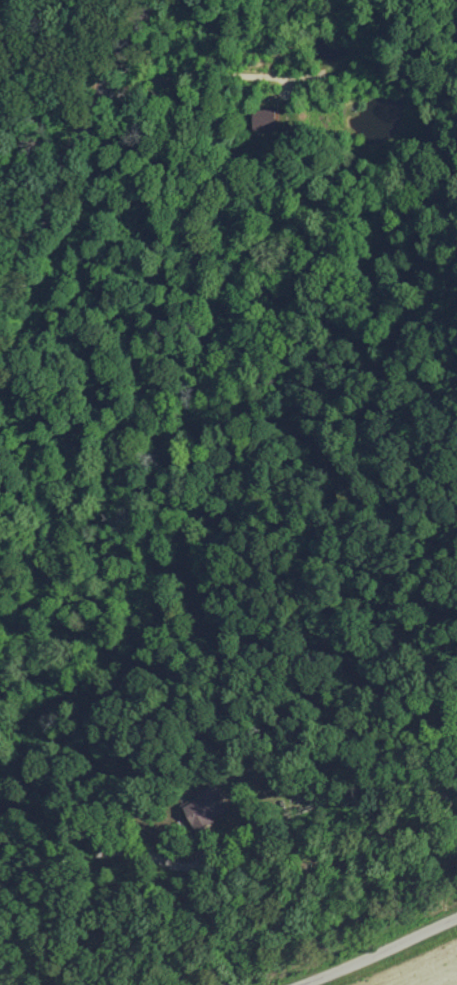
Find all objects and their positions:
building: (264, 118)
road: (76, 131)
building: (205, 806)
road: (223, 834)
road: (383, 955)

